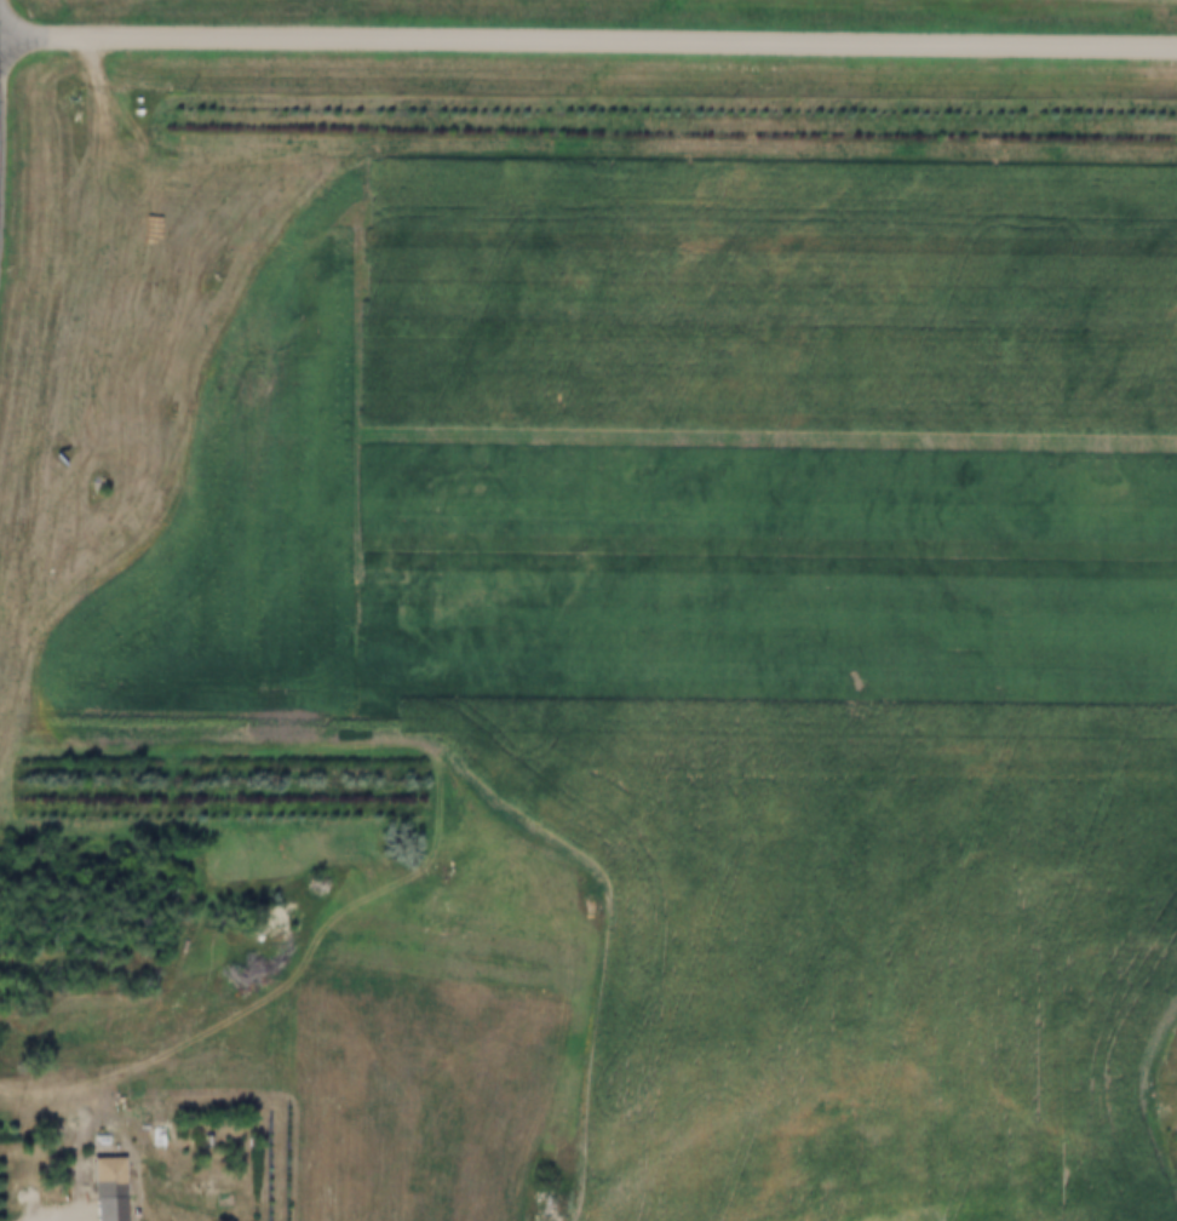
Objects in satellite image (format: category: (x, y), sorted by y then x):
road: (587, 35)
building: (115, 1179)

